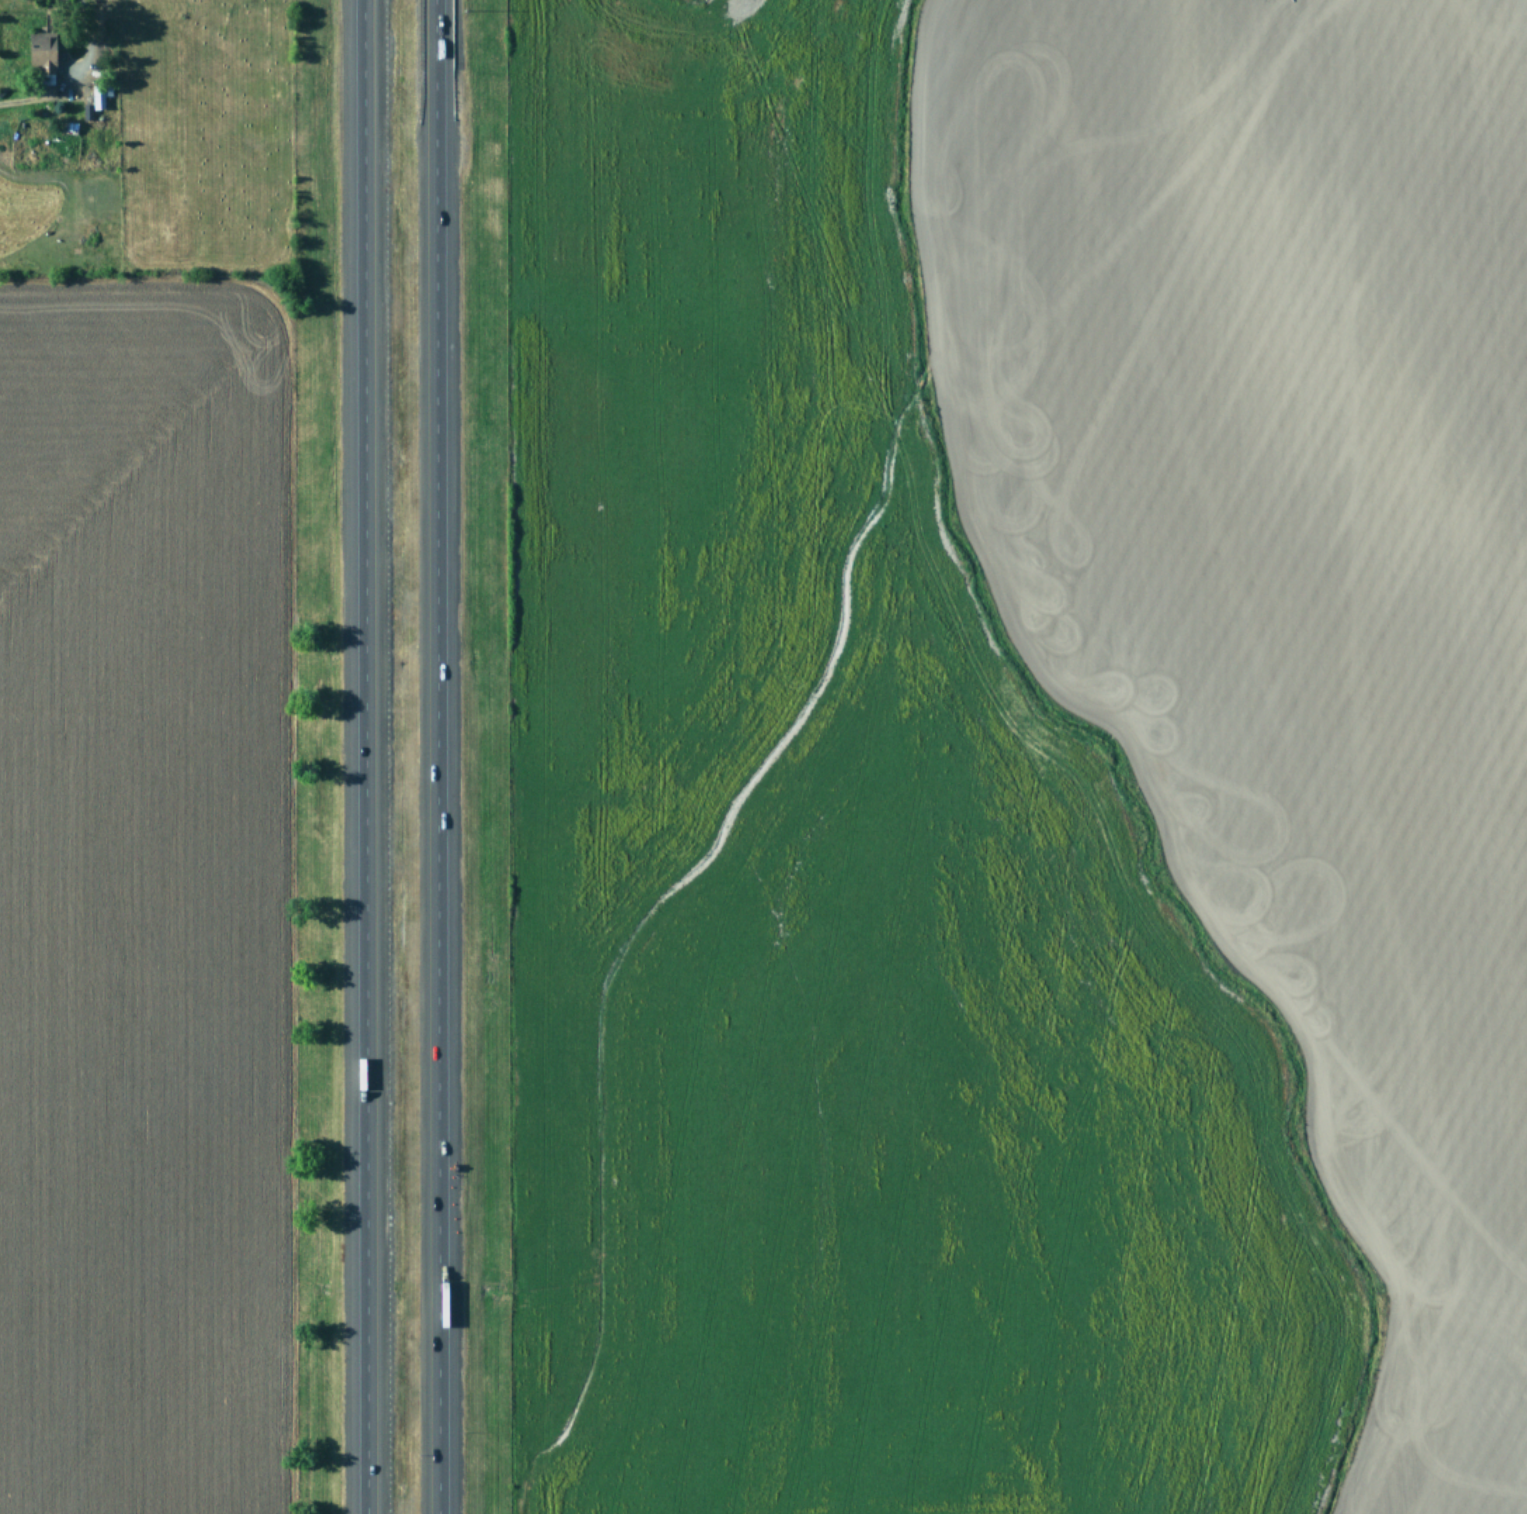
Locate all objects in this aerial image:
road: (82, 26)
building: (42, 56)
building: (98, 95)
crop: (149, 756)
crop: (1027, 756)
road: (378, 757)
road: (438, 757)

